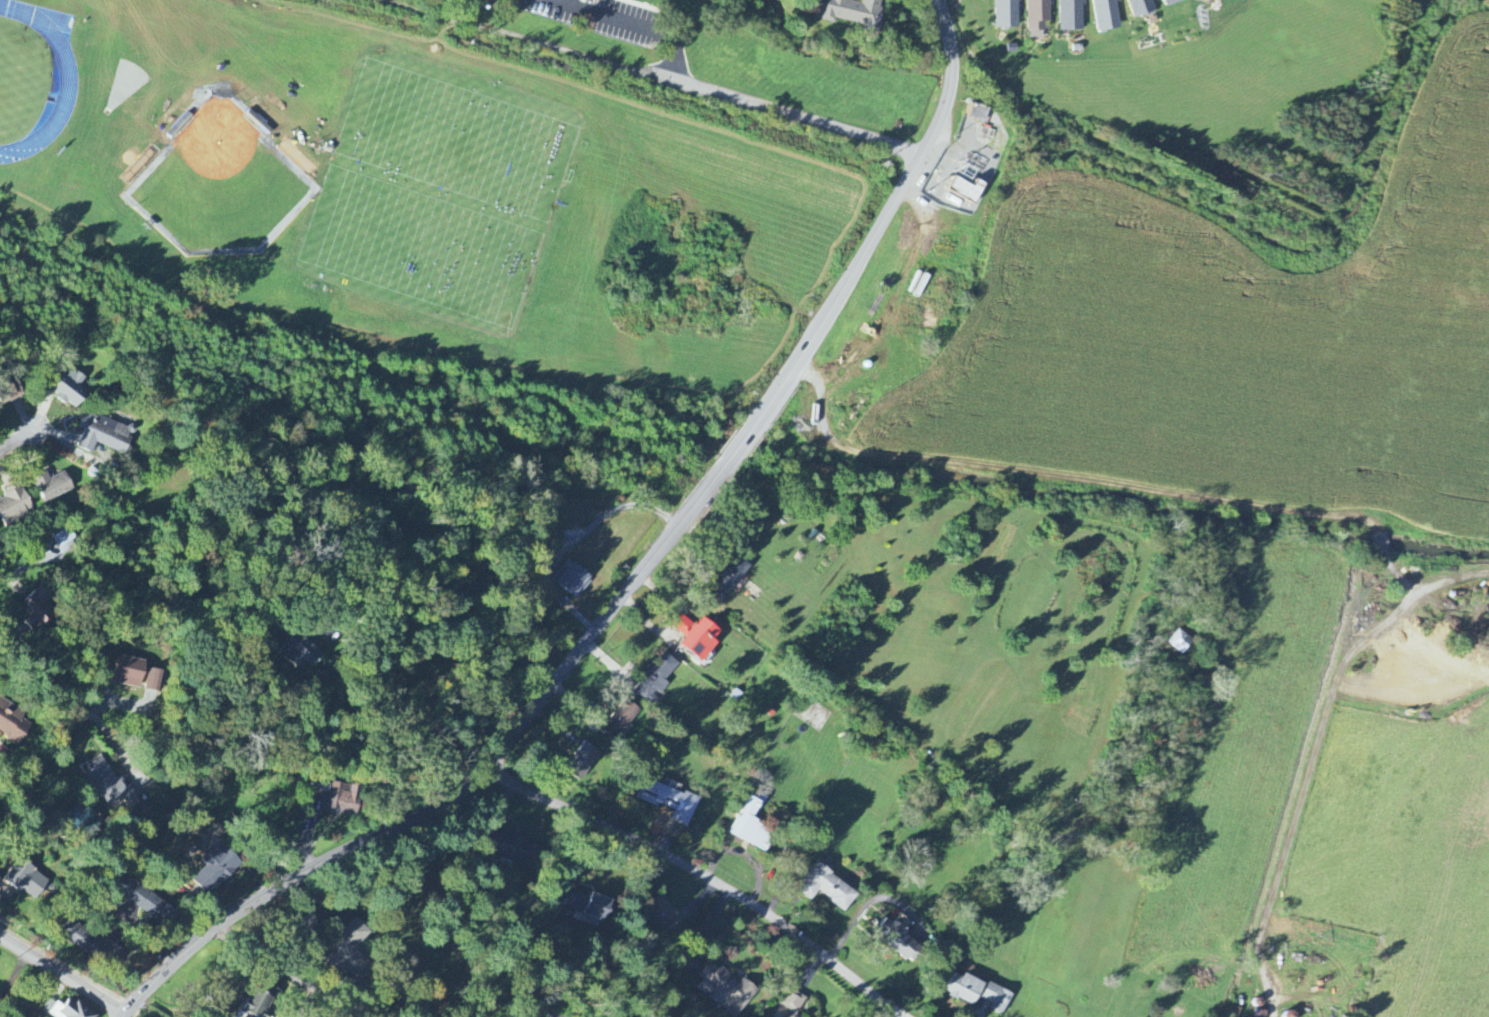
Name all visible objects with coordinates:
building: (1197, 0)
building: (1174, 2)
building: (1141, 8)
building: (855, 13)
building: (1006, 14)
building: (1071, 16)
building: (1106, 16)
building: (1037, 18)
track: (57, 78)
road: (718, 91)
building: (978, 113)
park: (220, 185)
building: (967, 191)
road: (870, 245)
building: (69, 389)
building: (10, 392)
road: (23, 431)
building: (103, 435)
building: (52, 486)
road: (1138, 488)
building: (14, 508)
building: (63, 541)
road: (573, 542)
building: (729, 578)
building: (573, 580)
road: (462, 605)
building: (39, 609)
building: (698, 638)
building: (1181, 642)
building: (302, 652)
building: (128, 672)
building: (655, 679)
building: (154, 681)
building: (621, 720)
building: (12, 723)
road: (59, 754)
building: (582, 763)
road: (465, 784)
building: (110, 786)
building: (320, 792)
road: (1302, 793)
building: (345, 799)
building: (668, 801)
building: (82, 818)
building: (751, 827)
building: (519, 851)
building: (216, 870)
road: (704, 875)
building: (27, 881)
building: (827, 889)
building: (150, 905)
building: (590, 906)
building: (660, 914)
building: (85, 941)
building: (900, 941)
building: (352, 950)
road: (291, 971)
road: (63, 975)
building: (719, 987)
building: (964, 989)
building: (997, 998)
building: (262, 1002)
building: (792, 1003)
building: (66, 1010)
road: (123, 1013)
road: (524, 1015)

